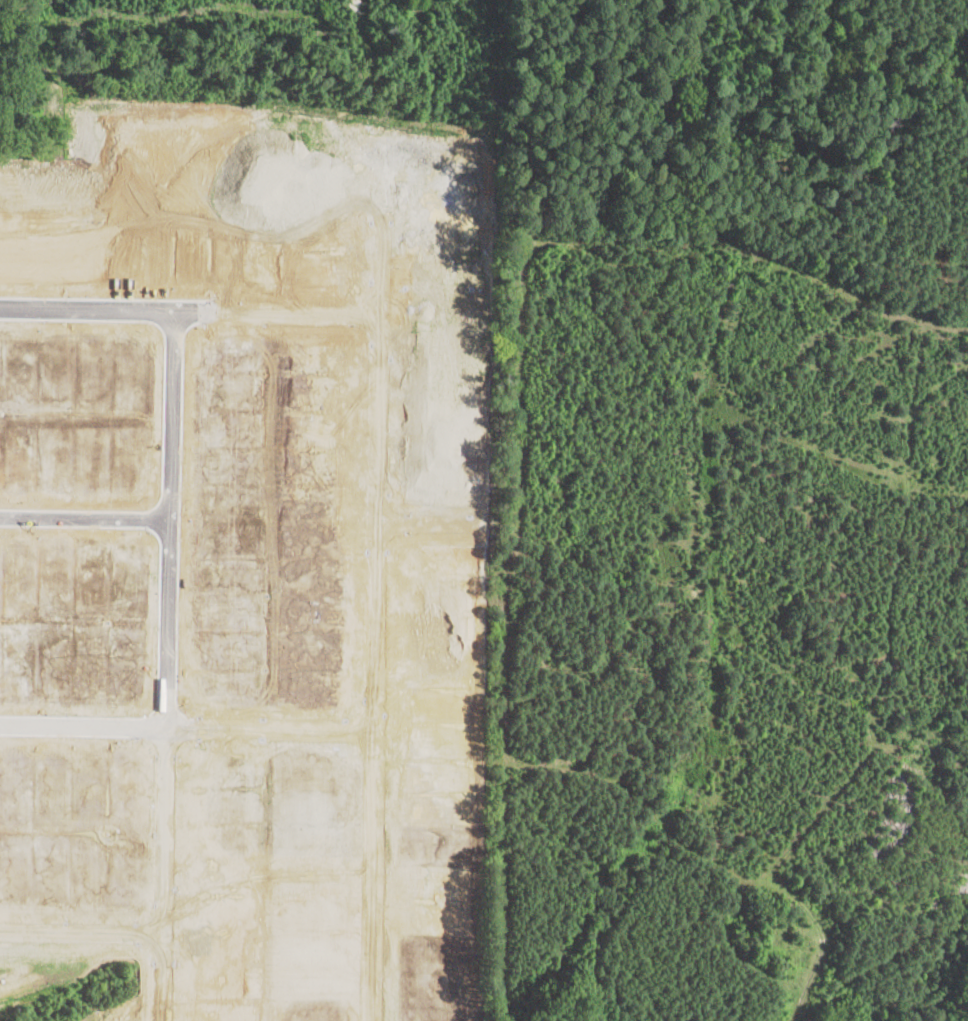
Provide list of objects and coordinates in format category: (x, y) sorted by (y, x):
road: (238, 308)
road: (387, 476)
road: (440, 518)
road: (84, 519)
road: (167, 619)
road: (191, 726)
road: (82, 929)

